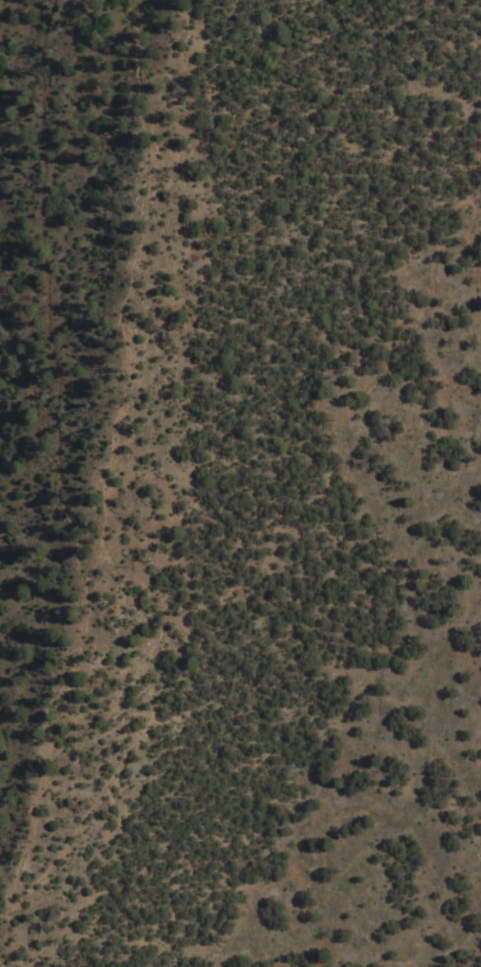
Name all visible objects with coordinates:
road: (470, 234)
road: (51, 292)
road: (32, 385)
road: (10, 900)

